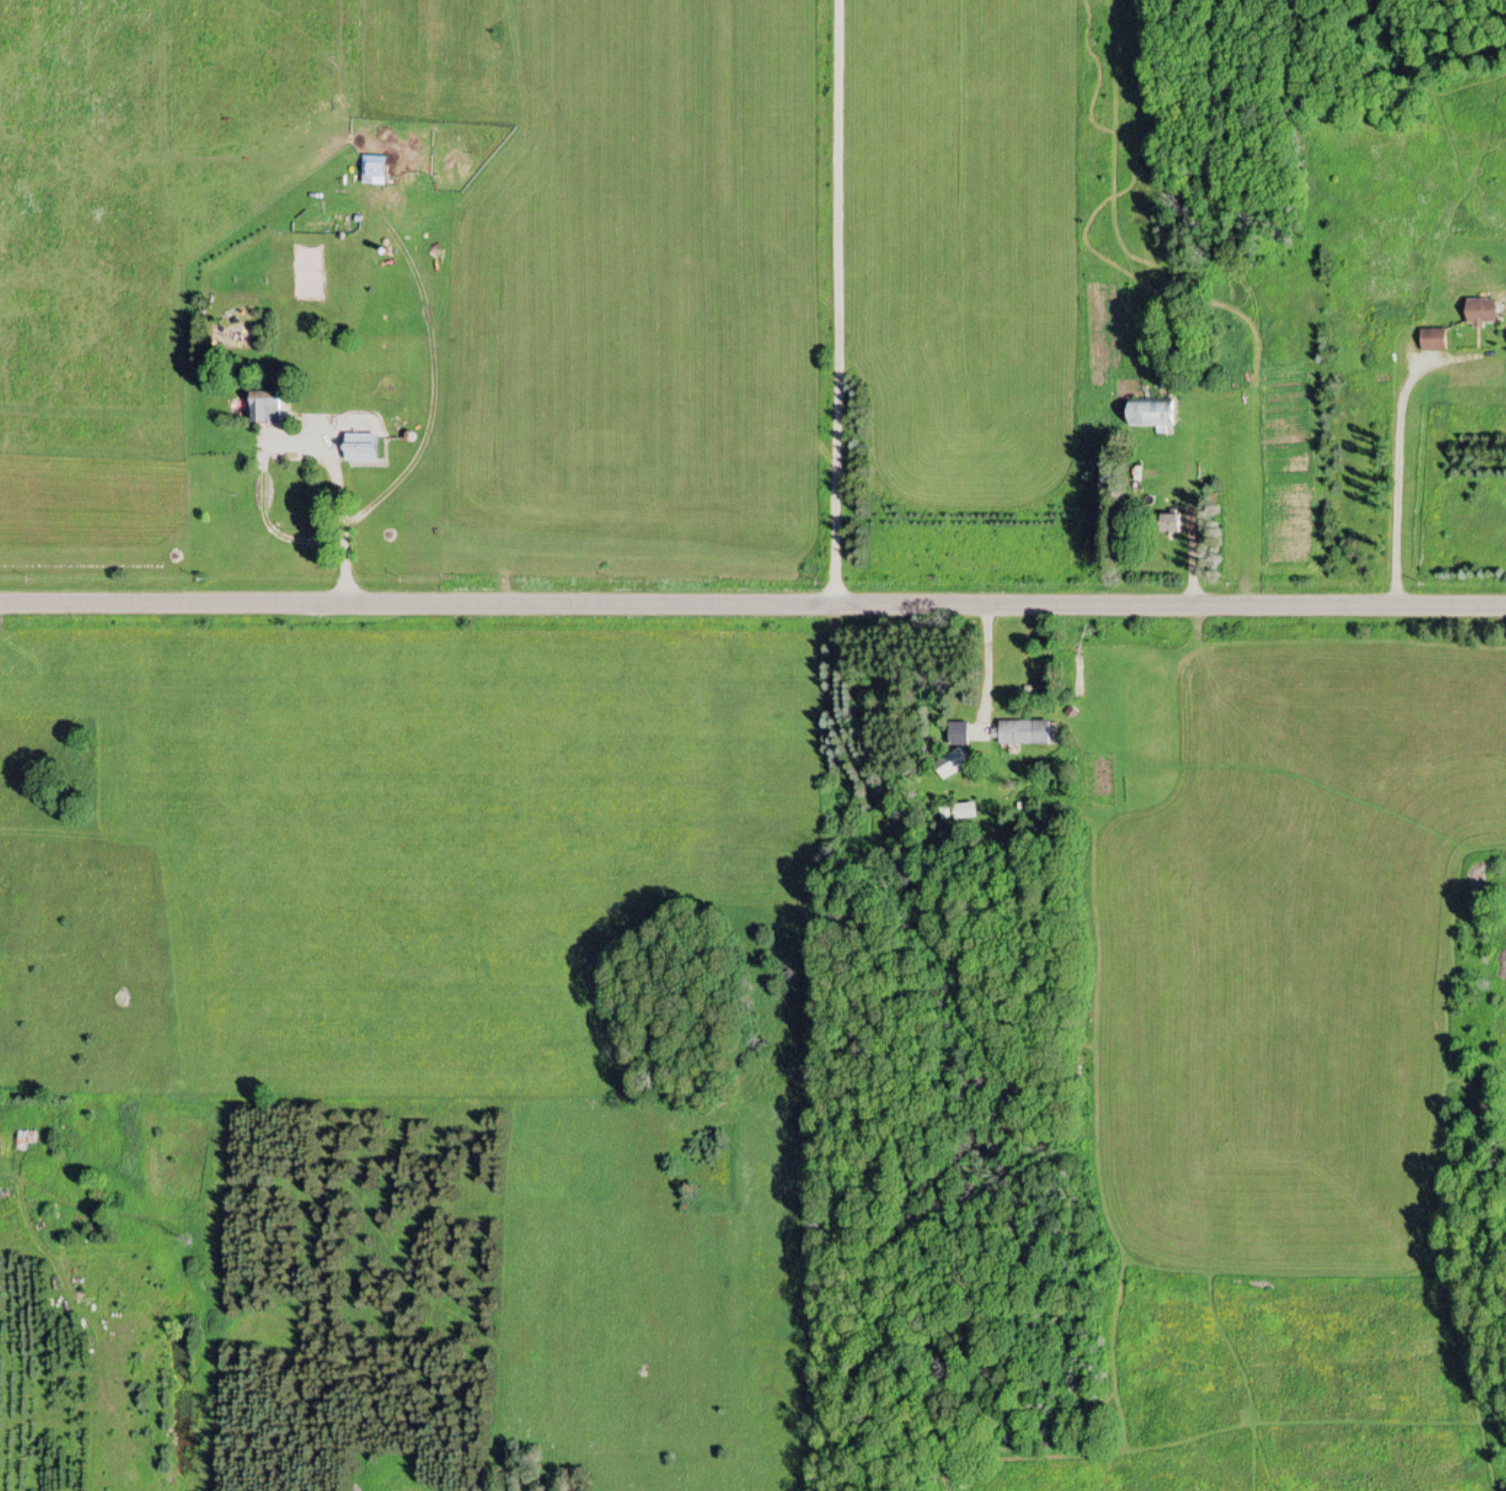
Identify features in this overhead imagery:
building: (1477, 314)
building: (1430, 342)
building: (260, 412)
building: (1145, 414)
building: (356, 441)
building: (1167, 525)
road: (753, 605)
building: (1021, 732)
building: (950, 768)
building: (959, 814)

